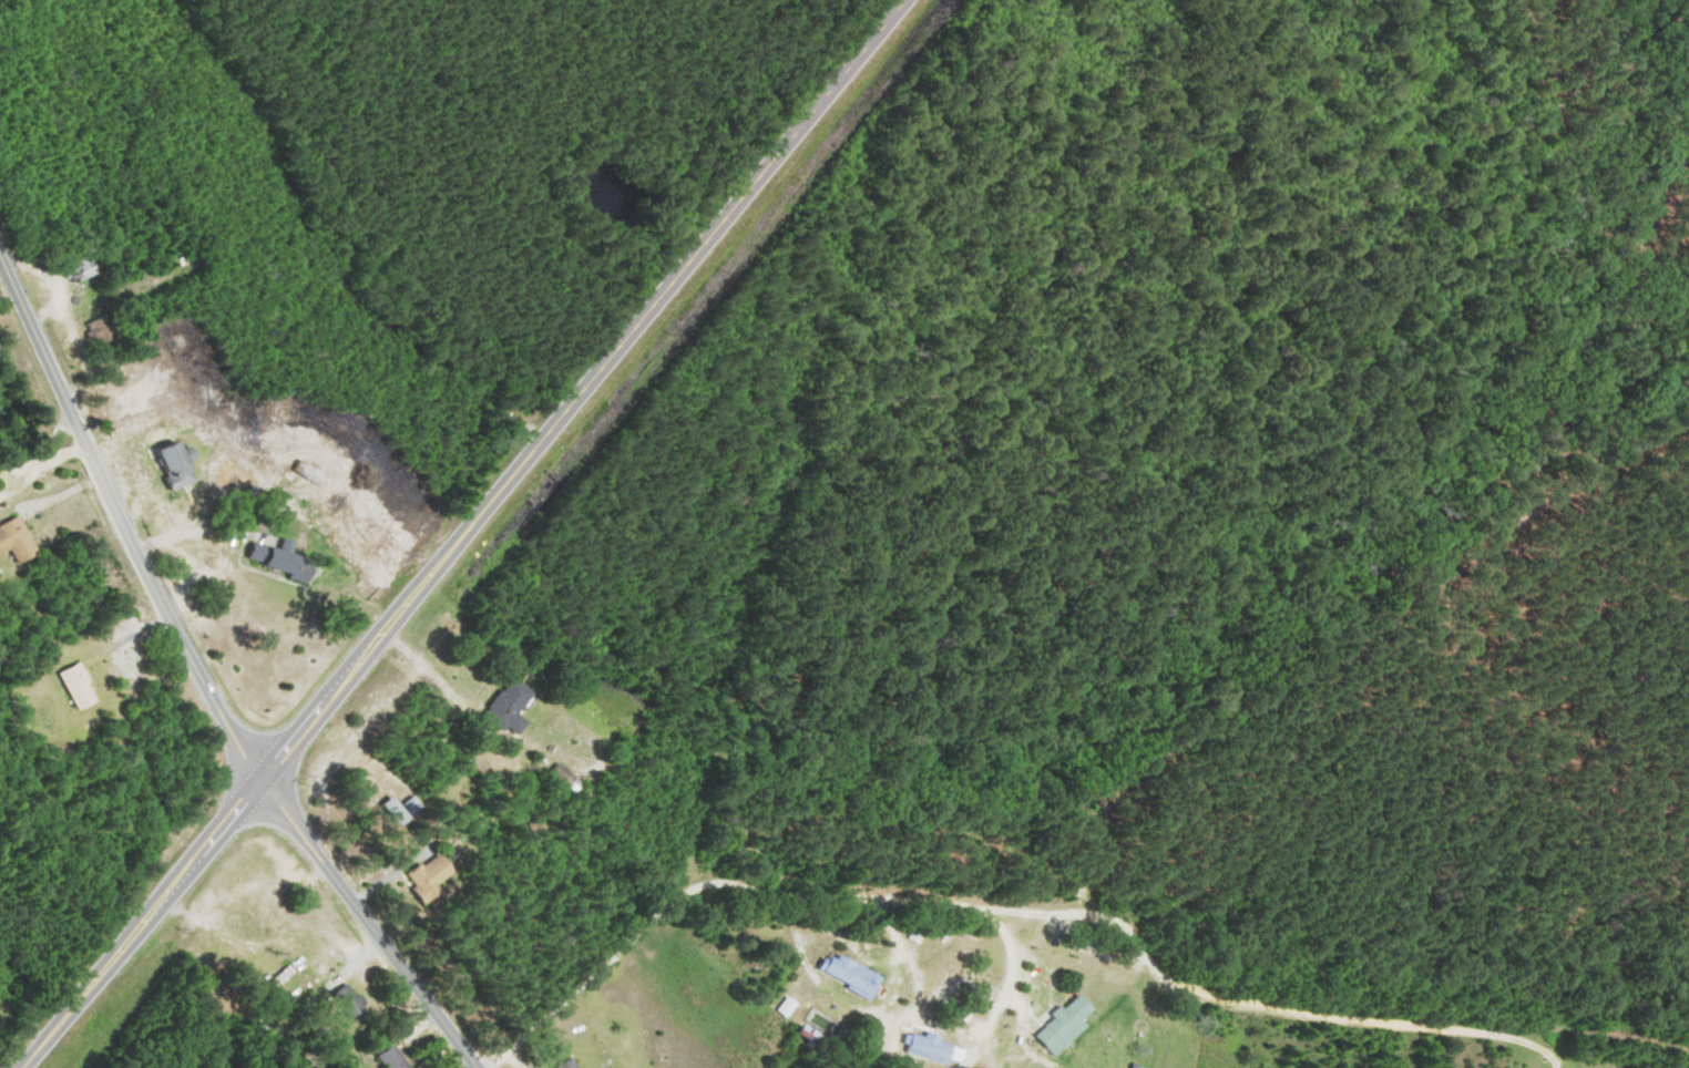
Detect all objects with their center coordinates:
building: (85, 269)
building: (104, 331)
building: (181, 464)
road: (42, 469)
building: (314, 473)
road: (463, 533)
building: (19, 541)
building: (283, 557)
road: (204, 684)
building: (83, 687)
building: (514, 707)
building: (406, 809)
building: (434, 875)
road: (702, 879)
building: (265, 902)
building: (851, 975)
building: (352, 1000)
building: (788, 1009)
building: (1071, 1025)
building: (812, 1035)
building: (939, 1049)
building: (395, 1059)
building: (571, 1064)

